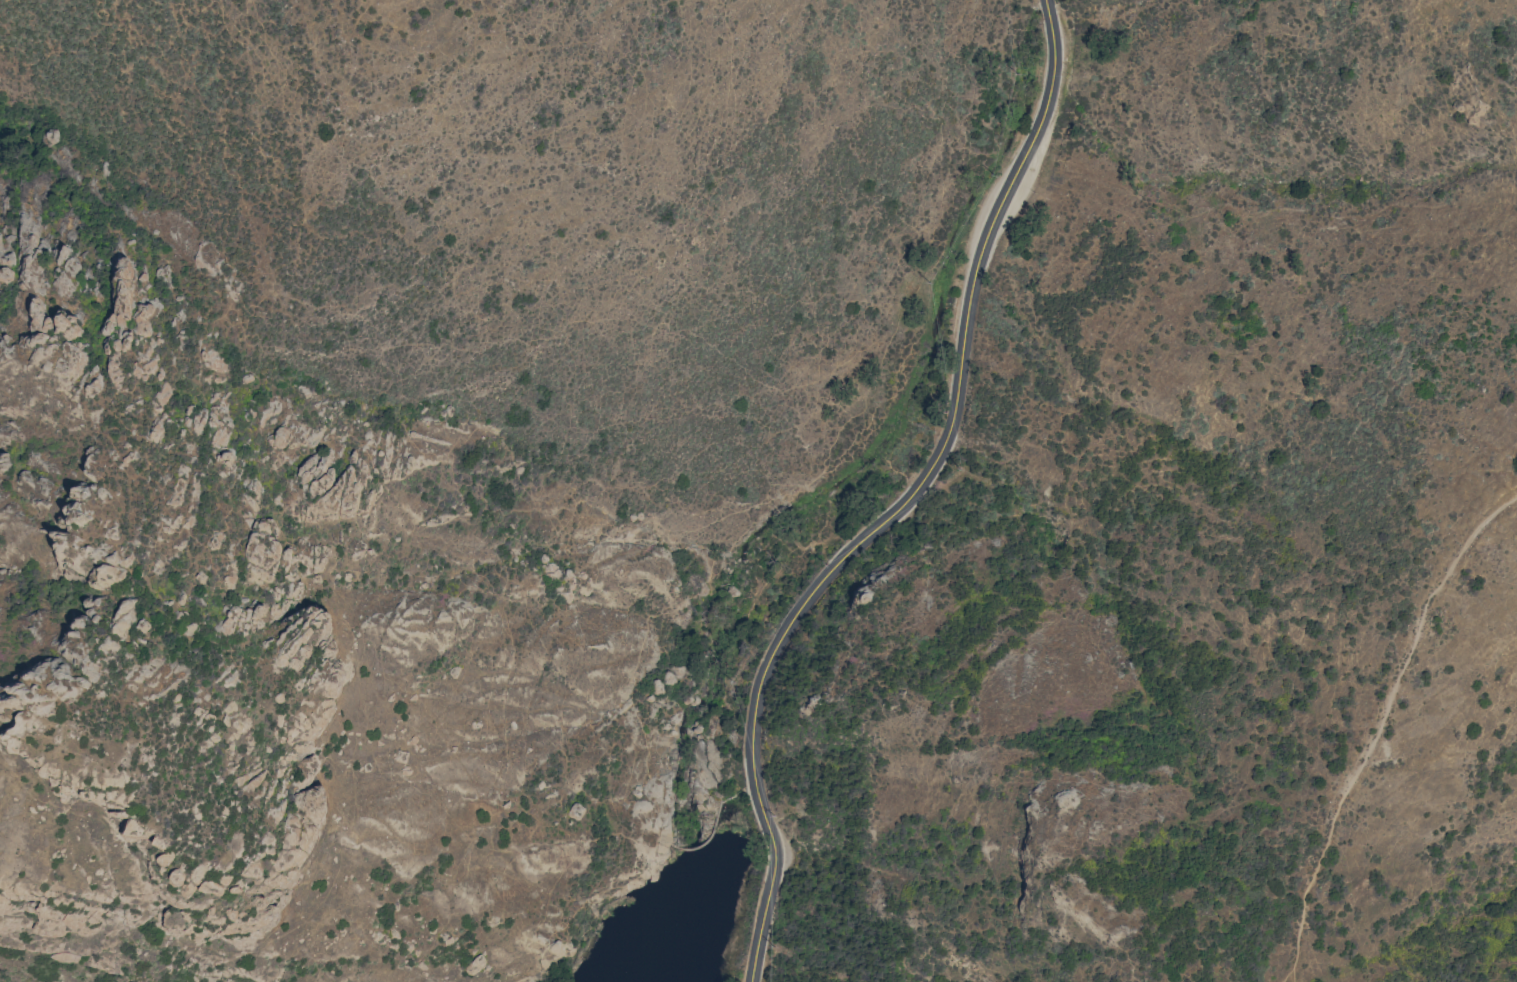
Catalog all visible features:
road: (1048, 15)
road: (894, 514)
road: (1382, 728)
dam: (711, 833)
road: (1290, 972)

